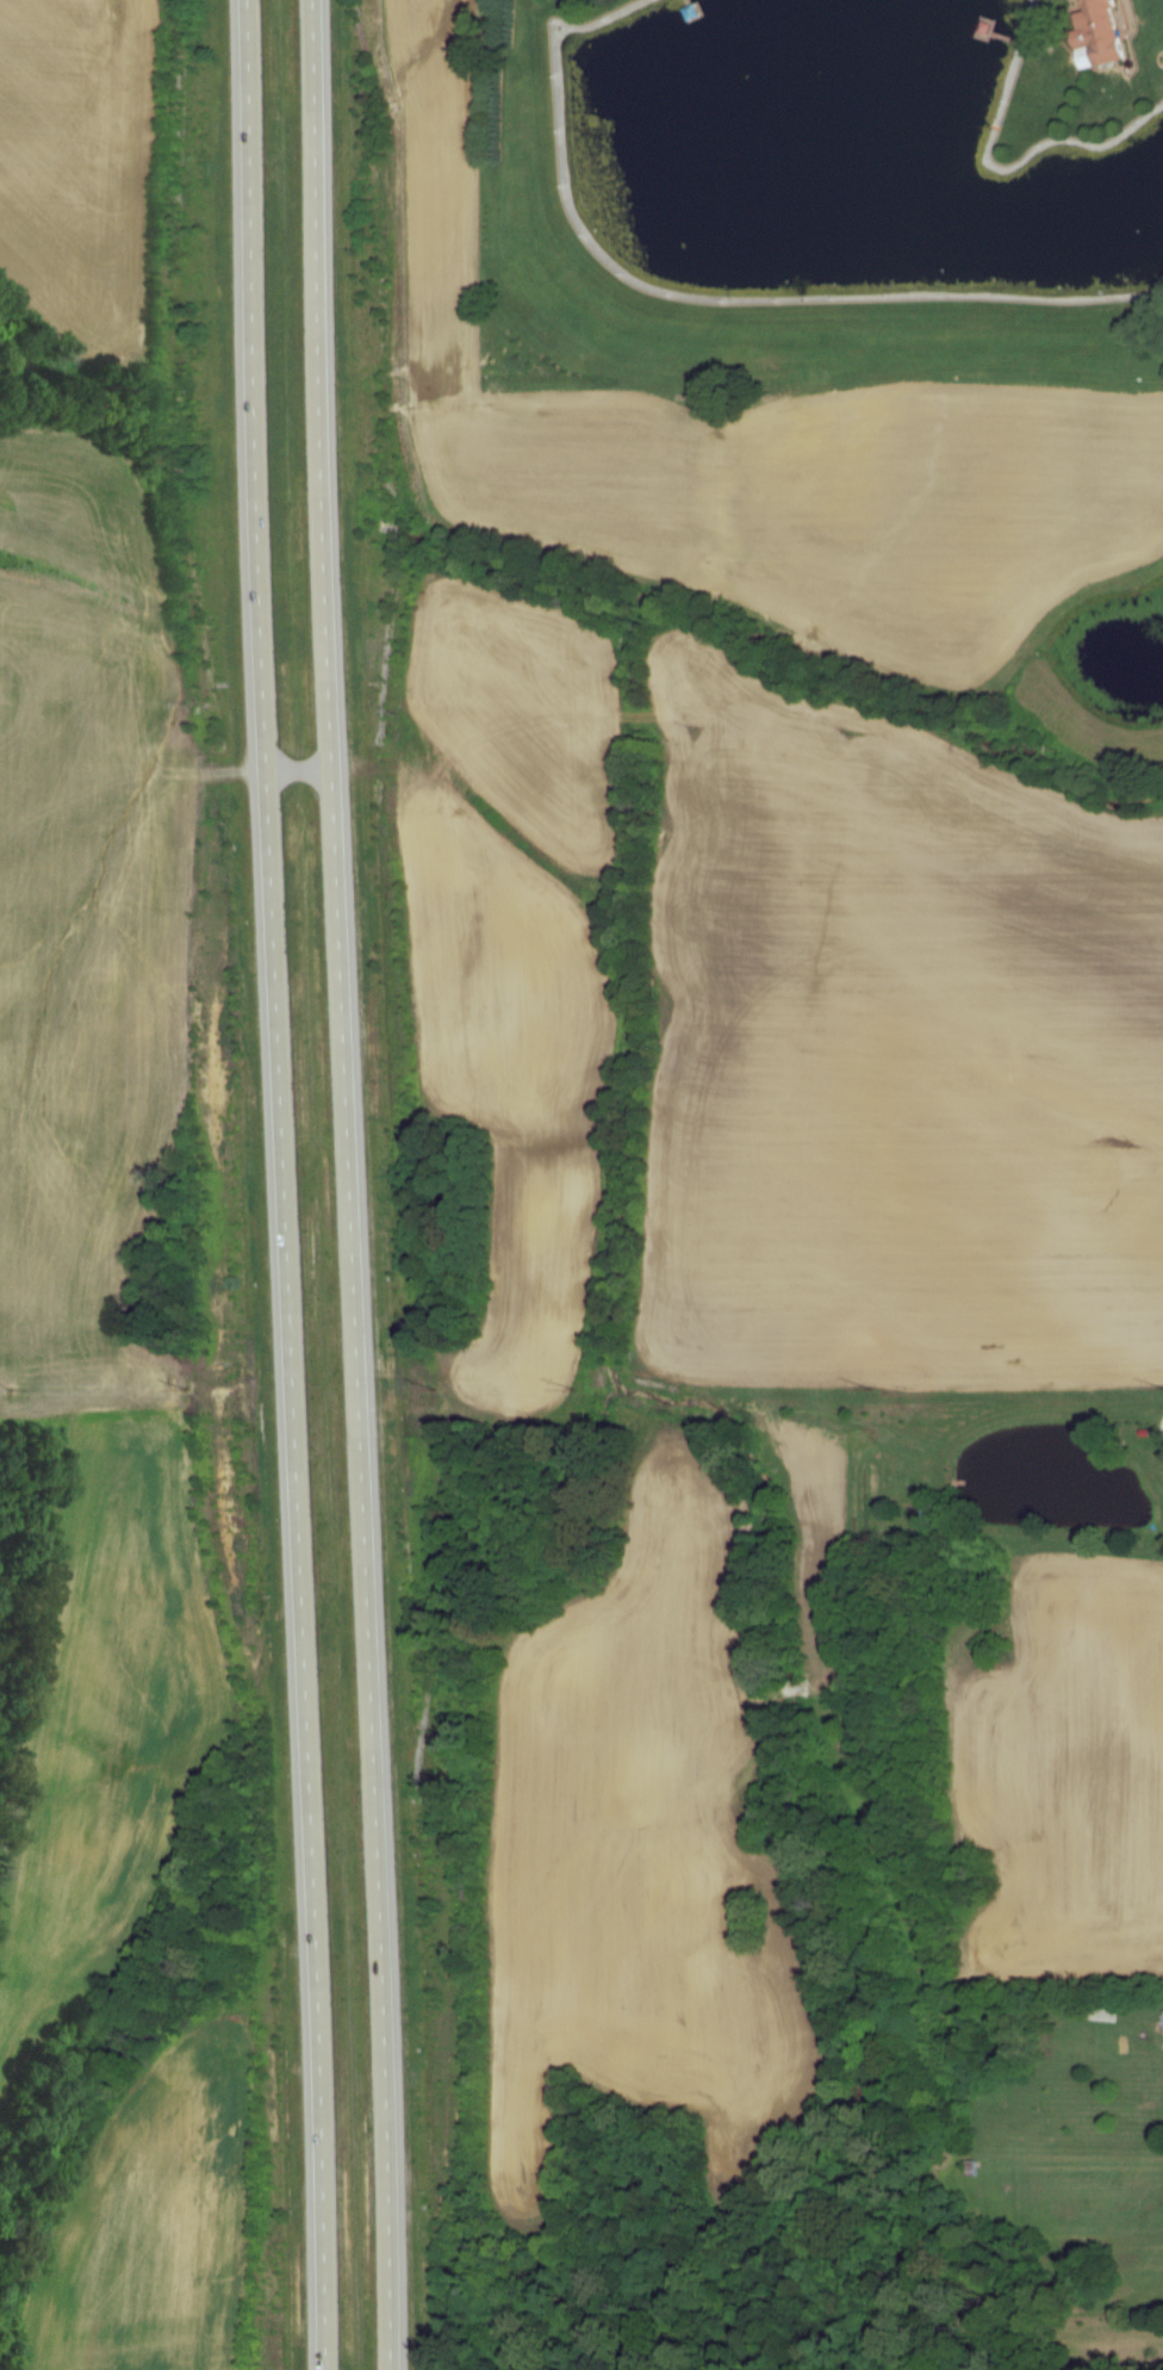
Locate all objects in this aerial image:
building: (1105, 35)
road: (352, 1184)
road: (285, 1185)

